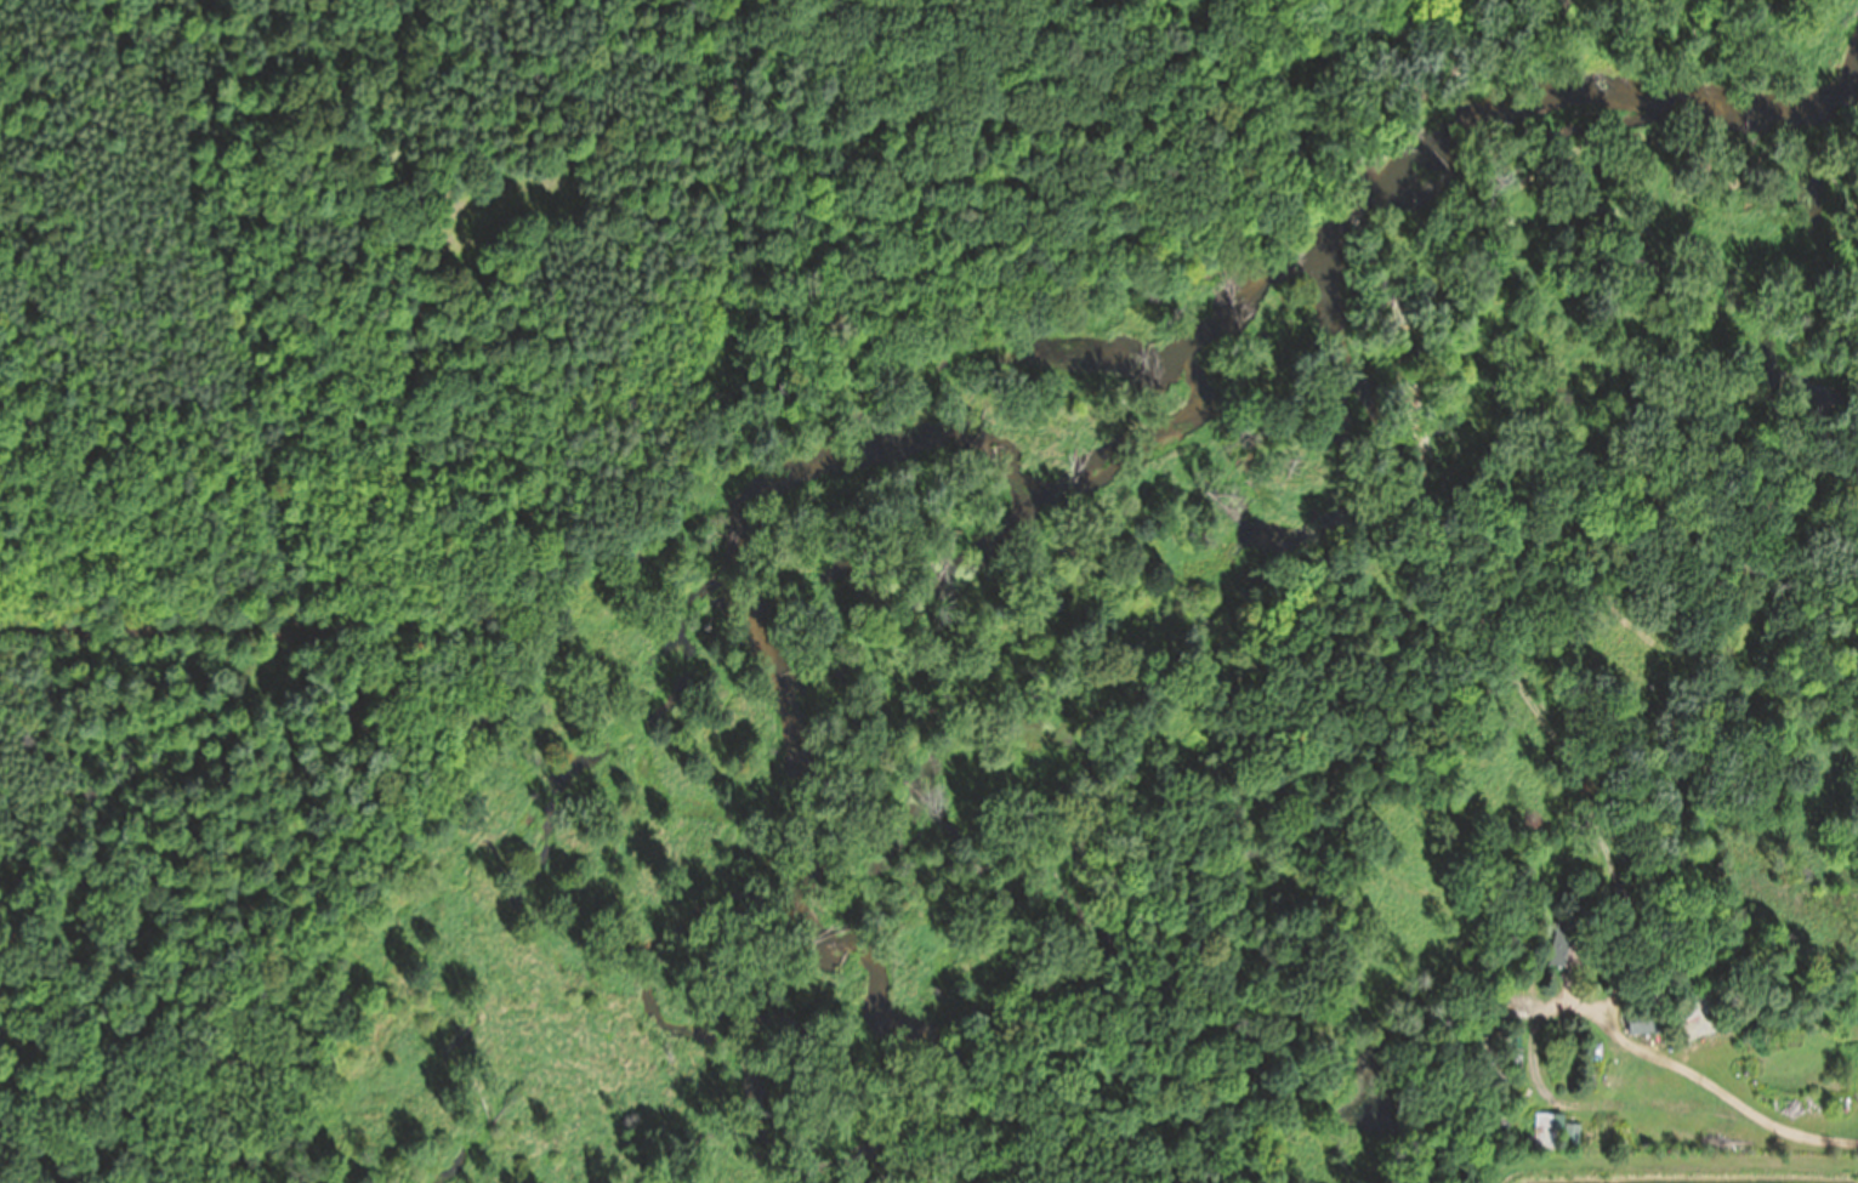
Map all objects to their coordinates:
building: (1564, 942)
building: (1647, 1019)
building: (1570, 1136)
building: (1545, 1139)

